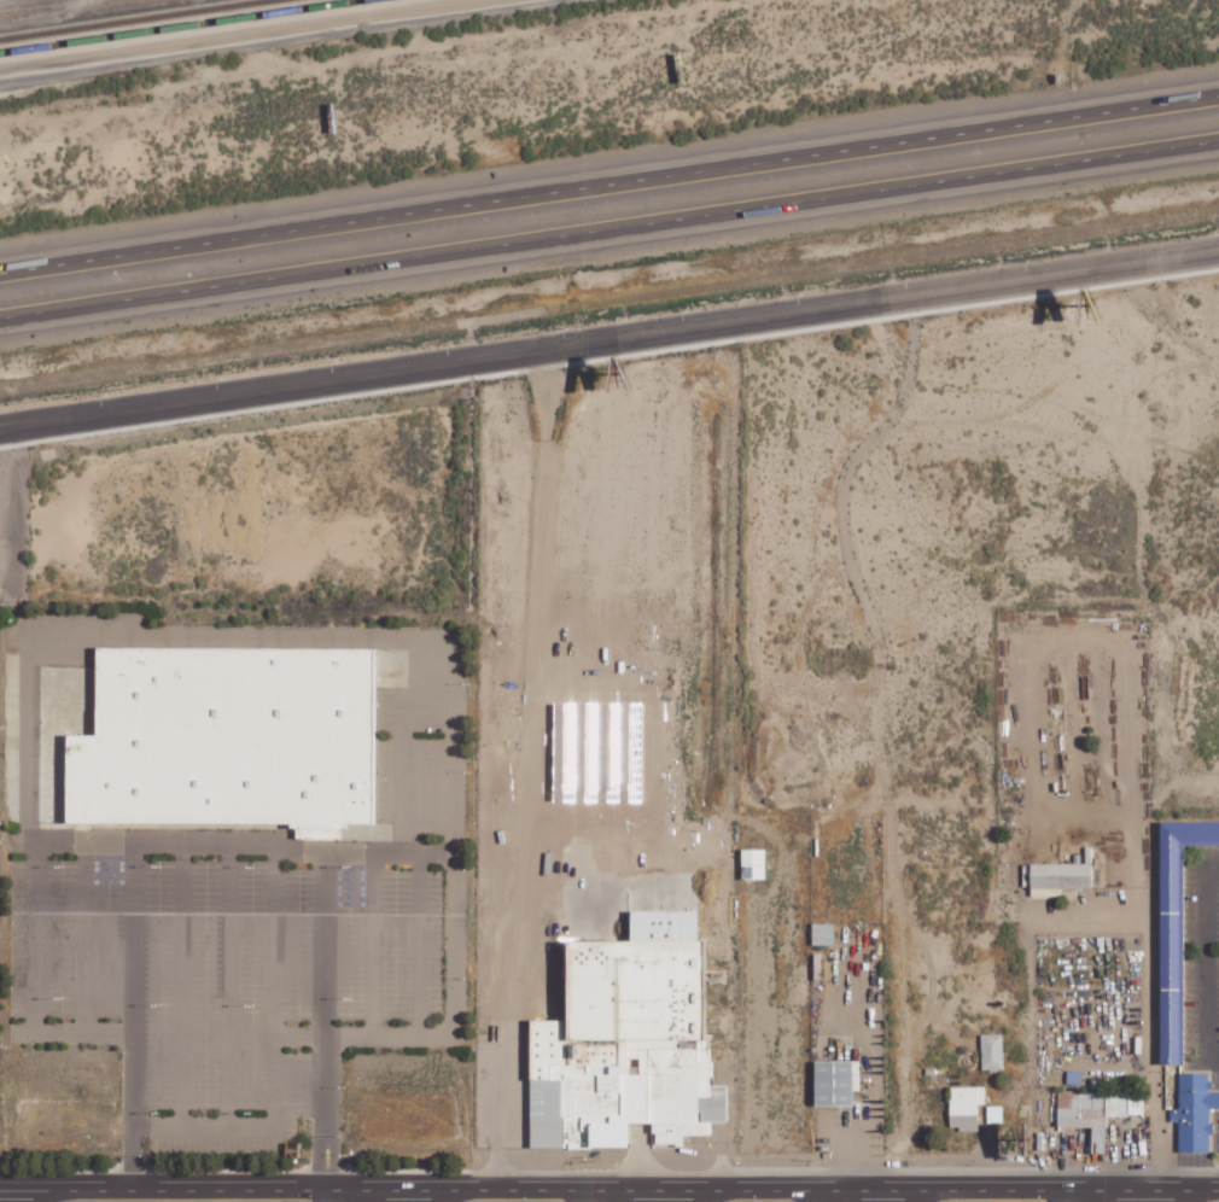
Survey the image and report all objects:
railway: (92, 12)
railway: (130, 18)
railway: (177, 25)
railway: (217, 31)
street lamp: (588, 36)
road: (401, 59)
road: (609, 185)
road: (609, 231)
road: (609, 339)
building: (226, 739)
road: (402, 747)
road: (454, 823)
road: (240, 841)
building: (753, 863)
building: (1058, 877)
building: (1177, 928)
building: (823, 933)
road: (82, 936)
road: (372, 941)
road: (418, 941)
parking lot: (253, 951)
road: (274, 975)
road: (181, 985)
road: (227, 985)
road: (132, 1016)
road: (323, 1026)
building: (622, 1046)
building: (992, 1051)
building: (836, 1081)
building: (966, 1107)
building: (1097, 1110)
building: (1195, 1111)
building: (995, 1114)
road: (237, 1128)
road: (609, 1192)
road: (827, 1196)

